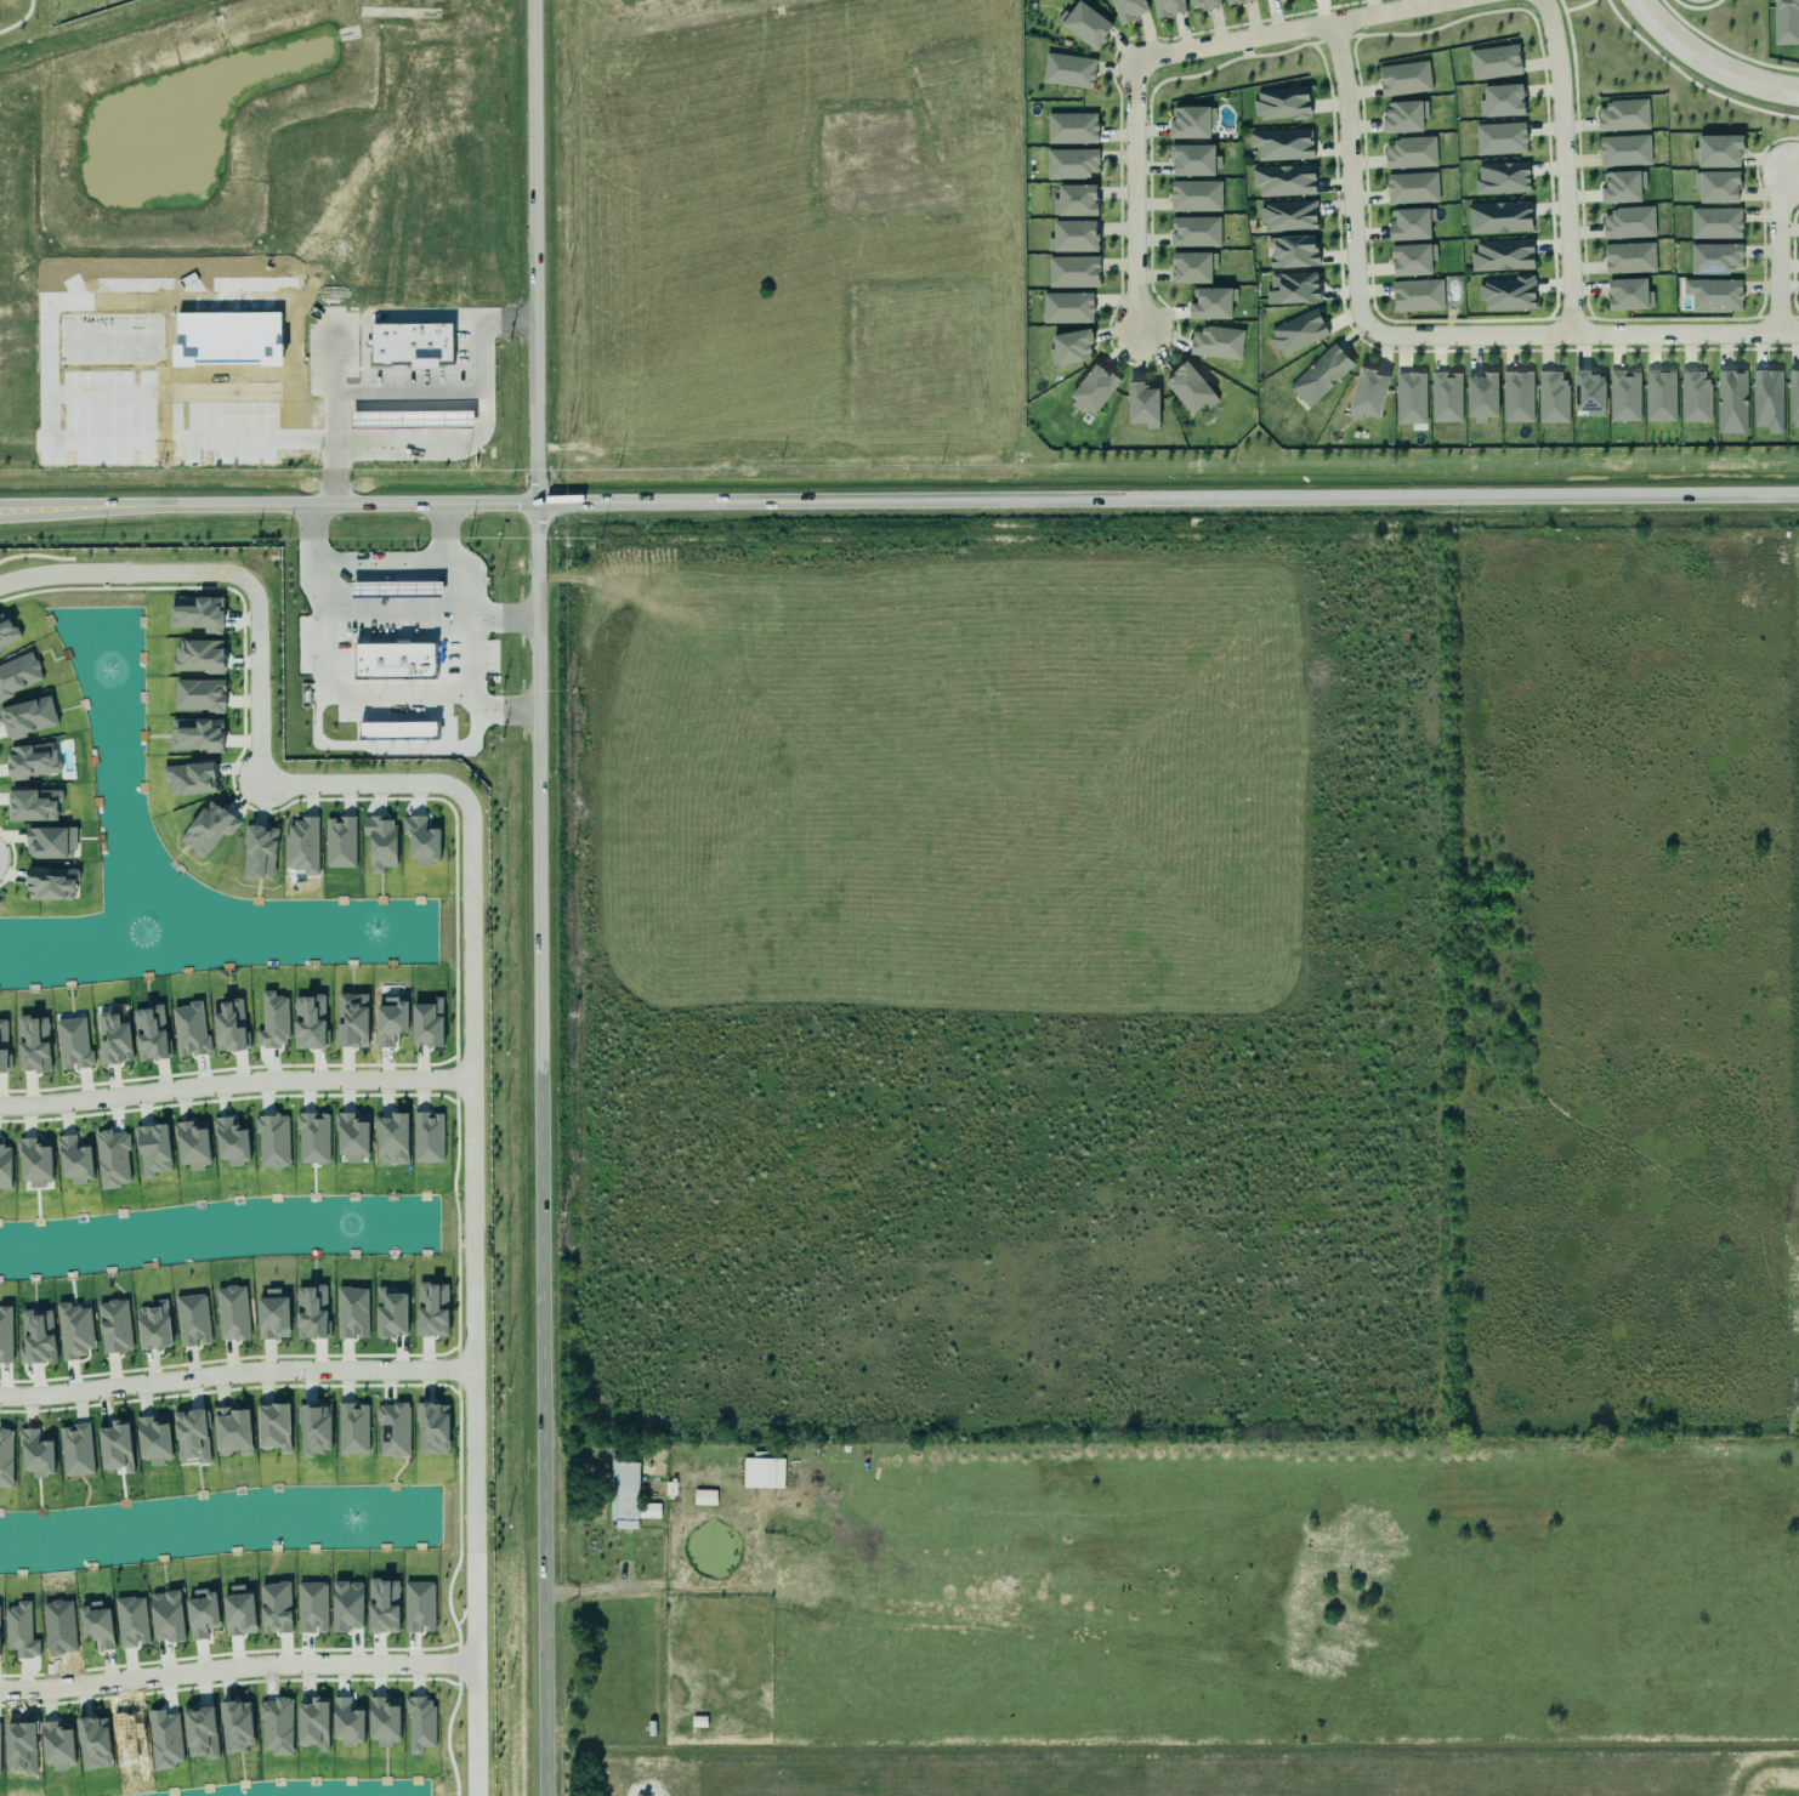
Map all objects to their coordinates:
building: (1232, 1)
building: (1201, 4)
building: (1168, 7)
building: (1125, 8)
building: (1783, 21)
building: (1084, 24)
road: (1290, 29)
building: (1494, 62)
road: (1709, 62)
building: (1068, 70)
building: (1401, 76)
building: (1500, 101)
building: (1281, 103)
building: (1621, 114)
building: (1401, 115)
building: (1186, 121)
building: (1068, 126)
building: (1497, 136)
building: (1282, 144)
building: (1621, 149)
building: (1714, 150)
building: (1408, 152)
building: (1190, 159)
building: (1072, 163)
road: (1564, 164)
road: (1349, 174)
building: (1499, 177)
building: (1279, 178)
building: (1619, 186)
building: (1714, 186)
building: (1412, 187)
building: (1192, 194)
road: (1134, 197)
building: (1072, 200)
building: (1284, 215)
building: (1497, 216)
building: (1712, 221)
building: (1625, 222)
building: (1407, 223)
building: (1192, 231)
building: (1071, 235)
building: (1289, 250)
road: (1777, 251)
building: (1502, 255)
building: (1625, 256)
building: (1712, 256)
building: (1408, 258)
building: (1192, 267)
building: (1069, 271)
building: (1293, 288)
building: (1505, 291)
building: (1713, 292)
building: (1625, 294)
building: (1417, 295)
building: (1208, 302)
building: (1063, 306)
road: (385, 313)
building: (1298, 331)
road: (1580, 333)
road: (482, 341)
building: (1214, 341)
building: (1067, 346)
road: (331, 362)
building: (1316, 375)
building: (1090, 388)
building: (1190, 388)
building: (1364, 393)
building: (1588, 393)
building: (1621, 394)
building: (1656, 394)
building: (1442, 396)
building: (1479, 396)
building: (1692, 396)
building: (1792, 396)
building: (1407, 397)
building: (1516, 397)
building: (1551, 398)
building: (1764, 398)
building: (1731, 400)
building: (1142, 404)
building: (412, 419)
road: (336, 431)
road: (899, 500)
road: (378, 561)
road: (123, 572)
building: (396, 587)
road: (455, 590)
road: (344, 608)
building: (197, 613)
building: (6, 631)
building: (199, 655)
building: (395, 660)
building: (18, 675)
road: (255, 681)
road: (467, 688)
road: (391, 692)
building: (199, 694)
building: (28, 717)
building: (398, 729)
building: (195, 731)
road: (341, 744)
building: (33, 760)
building: (191, 778)
road: (357, 783)
building: (34, 805)
building: (209, 828)
building: (46, 840)
building: (421, 840)
building: (381, 841)
building: (340, 842)
building: (301, 845)
building: (260, 852)
building: (51, 883)
road: (534, 897)
building: (308, 1018)
building: (427, 1019)
building: (273, 1021)
building: (352, 1021)
building: (388, 1021)
building: (228, 1025)
building: (189, 1029)
building: (151, 1033)
building: (114, 1039)
building: (33, 1044)
building: (73, 1044)
building: (2, 1045)
road: (233, 1081)
building: (353, 1136)
building: (313, 1138)
building: (392, 1138)
building: (273, 1141)
building: (231, 1142)
building: (193, 1143)
building: (153, 1149)
building: (112, 1159)
building: (74, 1160)
building: (35, 1161)
building: (5, 1166)
road: (470, 1292)
building: (432, 1309)
building: (311, 1312)
building: (352, 1312)
building: (232, 1313)
building: (391, 1313)
building: (273, 1314)
building: (193, 1319)
building: (113, 1322)
building: (154, 1325)
building: (74, 1330)
building: (4, 1331)
building: (38, 1337)
road: (234, 1372)
building: (273, 1420)
building: (351, 1423)
building: (431, 1423)
building: (316, 1430)
building: (233, 1431)
building: (393, 1431)
building: (192, 1437)
building: (154, 1440)
building: (115, 1447)
building: (33, 1448)
building: (76, 1449)
building: (6, 1457)
building: (762, 1471)
building: (626, 1495)
building: (704, 1496)
building: (648, 1510)
building: (312, 1607)
building: (202, 1613)
road: (235, 1667)
building: (384, 1721)
building: (347, 1722)
building: (313, 1723)

